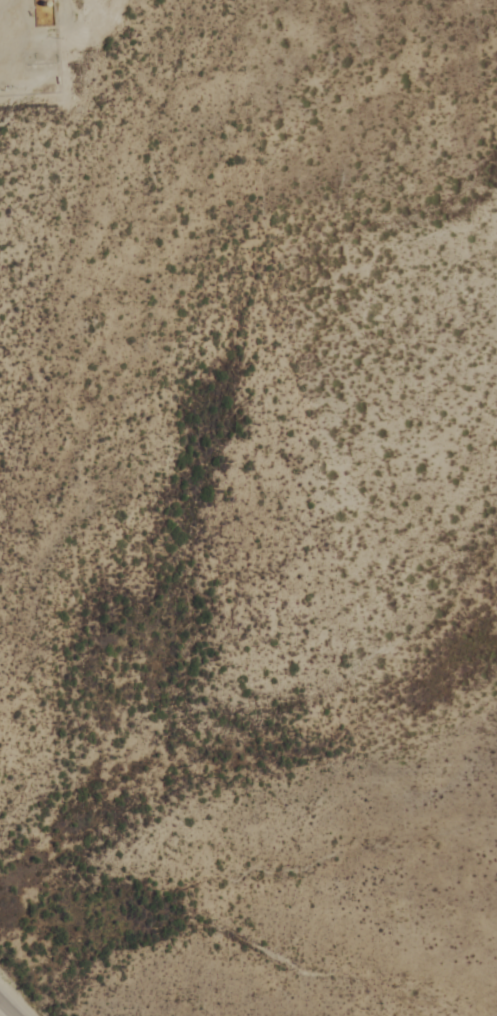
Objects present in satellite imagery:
road: (7, 1008)

